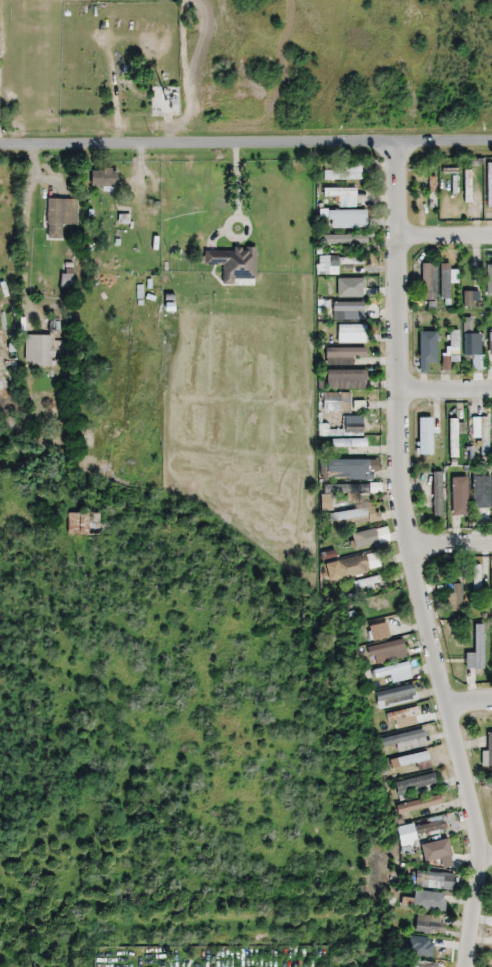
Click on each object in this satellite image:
road: (246, 138)
building: (449, 162)
building: (470, 162)
building: (449, 171)
building: (342, 172)
building: (103, 179)
building: (489, 185)
building: (467, 186)
building: (431, 192)
building: (341, 196)
building: (59, 218)
building: (346, 219)
road: (445, 233)
building: (343, 239)
building: (232, 263)
building: (340, 264)
building: (427, 282)
building: (489, 283)
building: (444, 284)
building: (348, 286)
building: (470, 299)
building: (347, 311)
building: (54, 324)
building: (350, 334)
building: (490, 343)
building: (472, 344)
building: (452, 345)
building: (427, 347)
building: (38, 350)
building: (342, 355)
building: (345, 379)
road: (446, 389)
building: (340, 403)
building: (481, 431)
building: (423, 436)
building: (453, 438)
building: (349, 443)
building: (347, 466)
building: (345, 489)
building: (480, 492)
building: (436, 493)
building: (458, 498)
building: (356, 516)
building: (82, 525)
building: (364, 539)
road: (448, 546)
road: (407, 556)
building: (351, 566)
building: (491, 585)
building: (456, 597)
building: (378, 631)
building: (478, 646)
building: (387, 650)
building: (395, 673)
building: (395, 698)
road: (468, 701)
building: (401, 714)
building: (401, 738)
building: (487, 752)
building: (408, 760)
building: (414, 783)
building: (418, 804)
building: (429, 828)
building: (434, 849)
road: (485, 854)
building: (433, 880)
building: (425, 901)
building: (428, 924)
building: (416, 946)
building: (422, 965)

